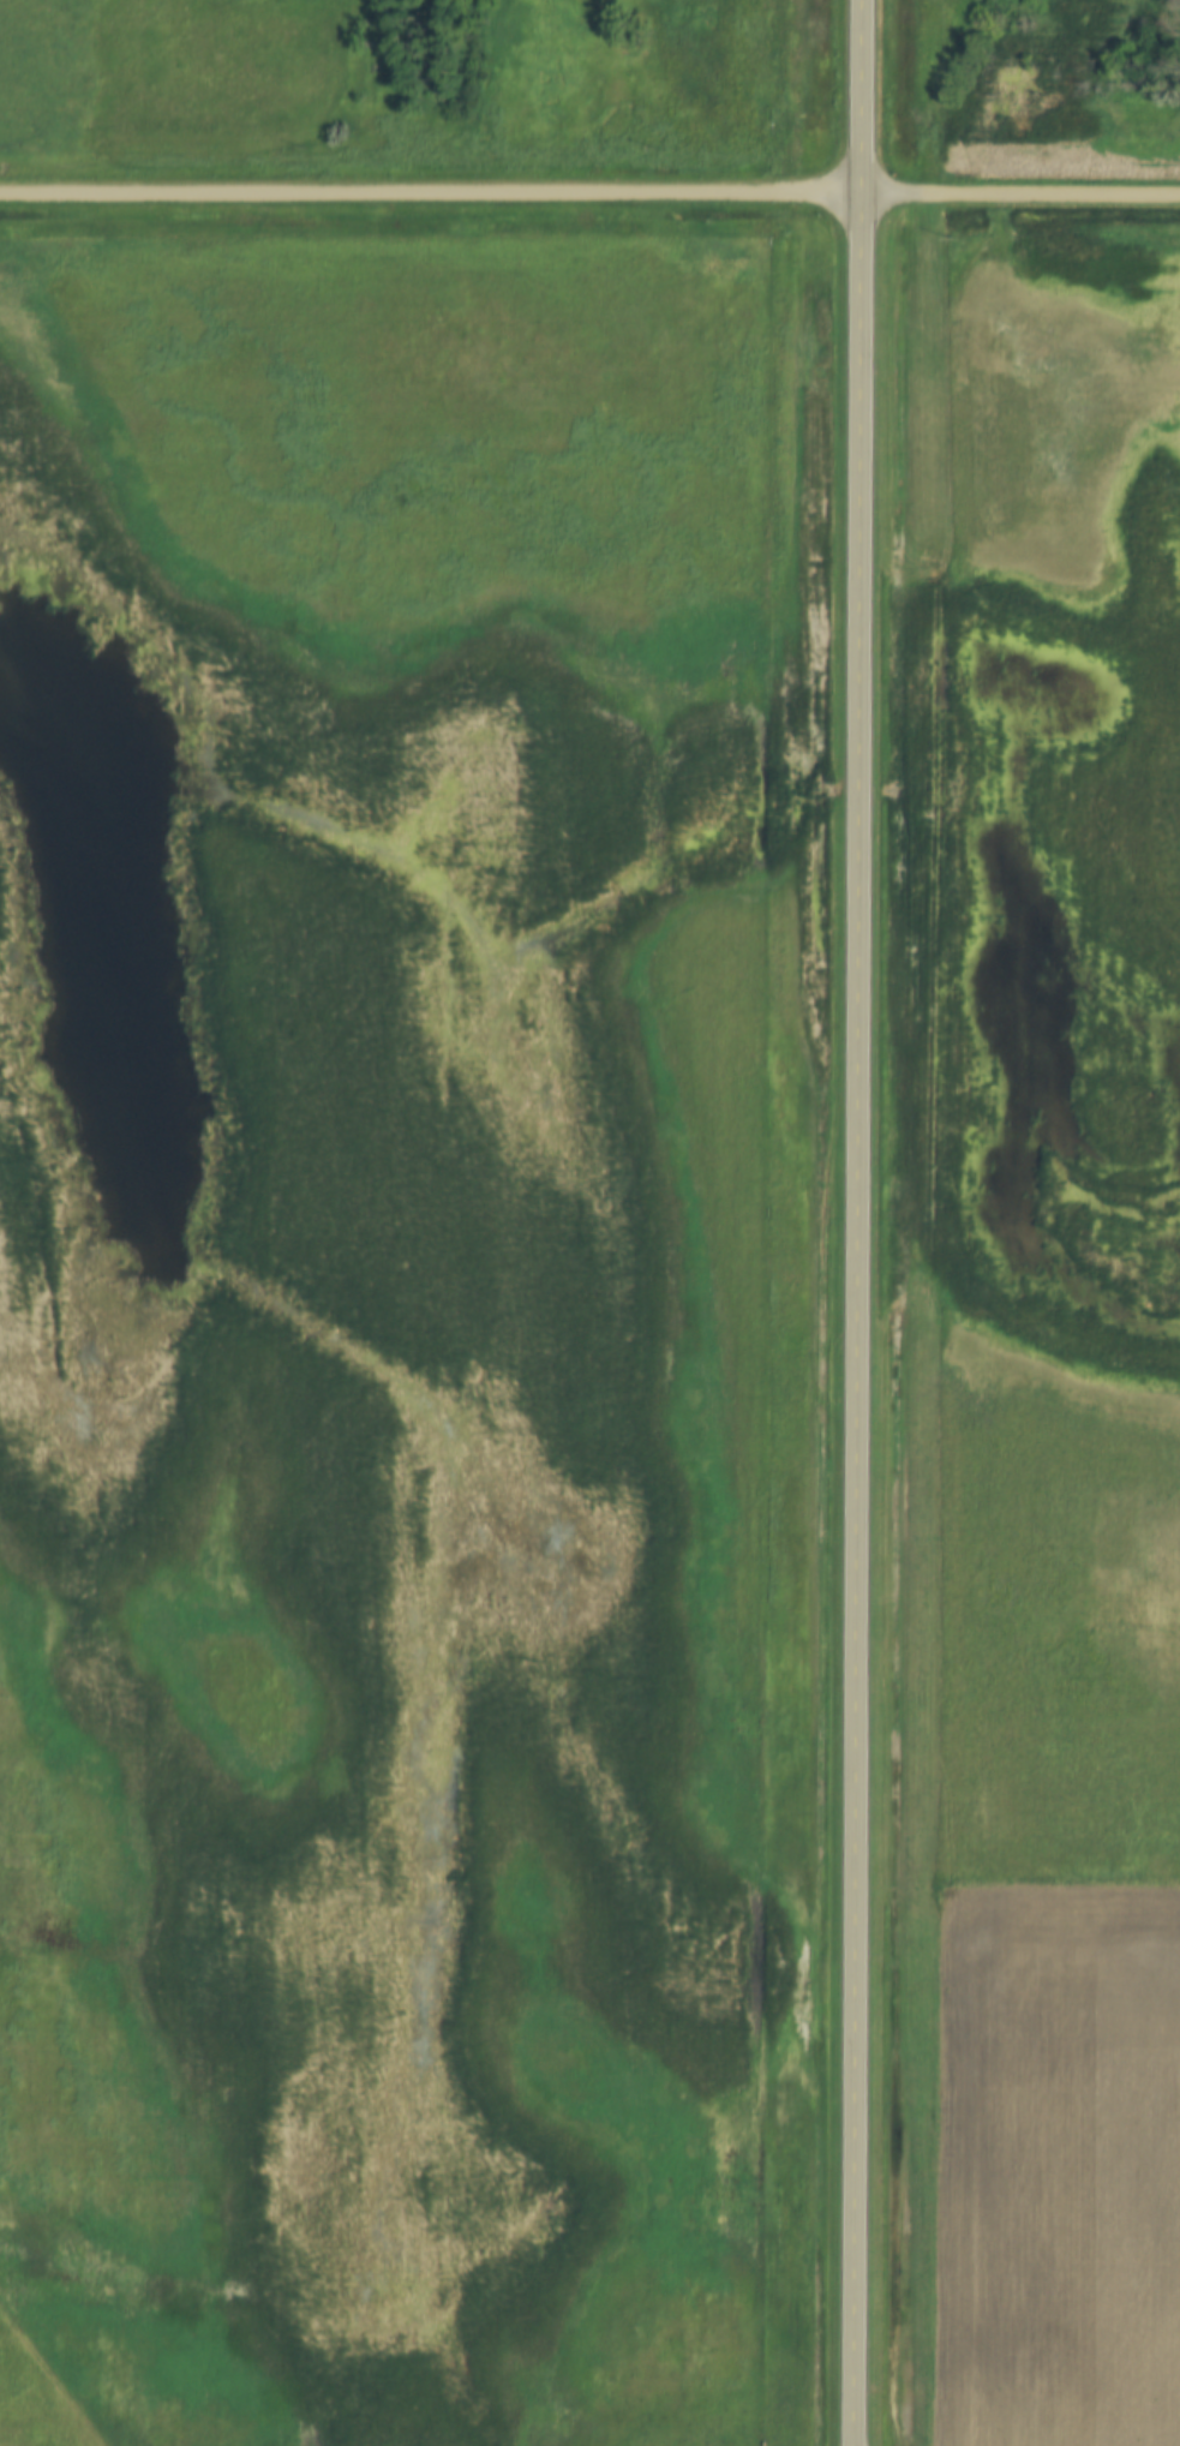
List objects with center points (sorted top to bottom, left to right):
road: (436, 198)
road: (1025, 199)
road: (870, 1222)

